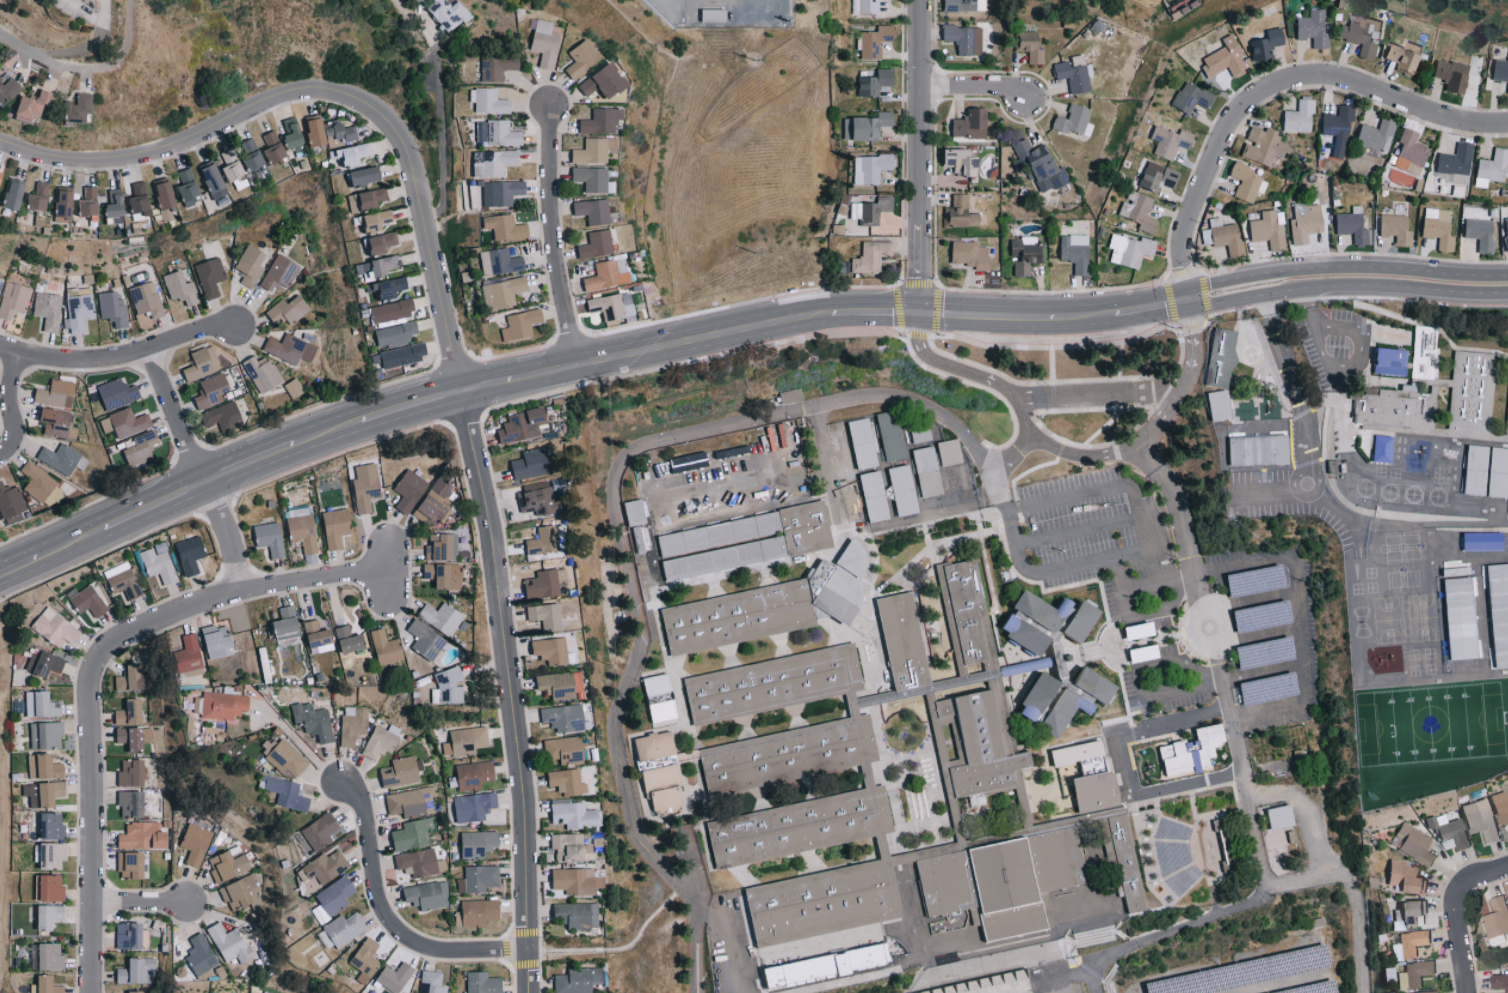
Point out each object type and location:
building: (962, 5)
building: (864, 6)
building: (445, 13)
power substation: (728, 13)
building: (1310, 28)
building: (1359, 36)
building: (961, 38)
building: (872, 41)
building: (541, 42)
building: (1263, 44)
building: (1027, 46)
road: (84, 48)
building: (1401, 56)
building: (576, 58)
building: (1222, 59)
road: (88, 66)
building: (493, 66)
building: (1499, 70)
building: (1449, 74)
road: (337, 77)
building: (597, 81)
road: (1274, 85)
building: (7, 87)
road: (977, 87)
building: (1189, 97)
building: (486, 101)
building: (27, 105)
building: (73, 106)
building: (1297, 117)
building: (597, 120)
building: (1072, 121)
building: (967, 124)
building: (865, 126)
building: (1335, 127)
road: (439, 132)
building: (495, 132)
building: (337, 133)
building: (1374, 134)
building: (289, 136)
building: (1167, 141)
building: (1261, 145)
building: (590, 150)
building: (1407, 153)
building: (346, 154)
building: (248, 156)
road: (921, 156)
road: (684, 161)
building: (489, 162)
building: (959, 163)
building: (1454, 163)
building: (1038, 166)
building: (869, 167)
building: (230, 168)
building: (1488, 168)
building: (0, 174)
building: (359, 175)
building: (1154, 176)
building: (588, 178)
building: (1242, 181)
building: (211, 183)
building: (184, 187)
building: (498, 192)
building: (10, 193)
building: (157, 194)
building: (33, 198)
building: (365, 198)
building: (133, 199)
building: (60, 203)
building: (590, 210)
building: (868, 210)
building: (1135, 211)
building: (959, 212)
building: (371, 219)
building: (1302, 222)
building: (1349, 225)
building: (501, 227)
road: (558, 227)
building: (1434, 227)
building: (1392, 229)
building: (1265, 230)
building: (1477, 232)
building: (1504, 232)
building: (1222, 237)
building: (375, 243)
building: (594, 244)
building: (1127, 250)
building: (1072, 251)
building: (965, 254)
building: (869, 256)
building: (1023, 256)
building: (497, 261)
building: (380, 264)
building: (247, 265)
building: (276, 272)
building: (604, 274)
building: (207, 276)
road: (1347, 277)
building: (0, 282)
building: (385, 287)
building: (177, 288)
building: (500, 292)
building: (13, 299)
building: (145, 299)
road: (1304, 302)
building: (609, 305)
building: (45, 310)
building: (110, 310)
building: (284, 310)
building: (77, 311)
building: (389, 311)
road: (1054, 315)
building: (519, 323)
building: (391, 334)
building: (286, 348)
building: (396, 355)
road: (121, 357)
building: (199, 363)
building: (1427, 363)
road: (950, 366)
road: (1357, 367)
building: (1393, 367)
building: (260, 372)
building: (1221, 377)
road: (1292, 383)
building: (291, 387)
building: (207, 391)
road: (1097, 392)
building: (52, 393)
building: (112, 394)
road: (447, 397)
building: (1475, 404)
road: (16, 407)
building: (1397, 414)
building: (221, 416)
building: (124, 422)
building: (54, 423)
building: (518, 426)
road: (1152, 426)
building: (921, 436)
building: (1233, 440)
building: (894, 442)
road: (1023, 444)
building: (1262, 444)
building: (133, 449)
building: (948, 452)
building: (1385, 455)
building: (59, 458)
road: (628, 462)
building: (524, 465)
building: (792, 466)
road: (199, 469)
building: (852, 469)
building: (924, 471)
building: (1263, 473)
building: (34, 480)
building: (1487, 480)
building: (1445, 484)
building: (708, 485)
building: (362, 487)
building: (441, 487)
road: (1306, 487)
building: (406, 490)
building: (900, 490)
road: (1307, 492)
road: (1085, 493)
building: (49, 496)
building: (871, 496)
building: (534, 500)
building: (10, 501)
building: (426, 510)
building: (630, 512)
building: (637, 520)
building: (332, 528)
building: (299, 529)
road: (1087, 529)
building: (267, 538)
building: (538, 542)
building: (440, 547)
building: (746, 550)
road: (1140, 550)
building: (1472, 550)
building: (186, 555)
building: (157, 564)
building: (1452, 572)
building: (444, 576)
building: (121, 580)
road: (1179, 582)
building: (541, 583)
road: (1151, 583)
building: (1471, 584)
building: (87, 601)
road: (1248, 602)
building: (888, 604)
building: (770, 613)
building: (543, 615)
building: (1480, 617)
building: (438, 618)
building: (1456, 618)
building: (287, 622)
building: (55, 627)
road: (1253, 638)
building: (350, 639)
building: (218, 640)
building: (425, 640)
building: (905, 645)
building: (387, 647)
building: (546, 650)
building: (188, 657)
building: (45, 663)
building: (1056, 663)
road: (94, 671)
building: (131, 678)
building: (553, 684)
building: (448, 686)
road: (509, 691)
road: (1168, 692)
building: (660, 701)
building: (41, 704)
building: (221, 705)
building: (131, 712)
building: (563, 717)
building: (313, 720)
building: (353, 724)
building: (46, 735)
building: (131, 737)
building: (381, 741)
building: (465, 741)
road: (301, 746)
building: (653, 746)
building: (1167, 747)
building: (562, 749)
building: (1072, 753)
building: (284, 755)
road: (1233, 758)
road: (1122, 761)
building: (44, 766)
building: (402, 771)
building: (132, 772)
building: (475, 773)
building: (1279, 773)
building: (567, 781)
building: (988, 788)
building: (662, 789)
building: (285, 792)
building: (1089, 792)
building: (44, 793)
building: (868, 798)
building: (1044, 800)
building: (411, 801)
building: (132, 803)
building: (474, 806)
building: (1500, 807)
building: (575, 814)
building: (1278, 817)
building: (1480, 820)
building: (52, 825)
building: (320, 831)
building: (1448, 832)
building: (413, 833)
building: (143, 835)
building: (196, 843)
building: (478, 843)
building: (1413, 844)
building: (572, 846)
building: (52, 853)
building: (908, 856)
building: (1220, 858)
building: (1127, 860)
building: (418, 862)
building: (132, 864)
building: (228, 865)
building: (327, 866)
building: (1402, 877)
building: (478, 878)
building: (574, 880)
road: (1486, 881)
building: (49, 887)
building: (241, 893)
building: (427, 894)
building: (336, 895)
road: (143, 903)
road: (708, 905)
building: (50, 915)
building: (577, 915)
building: (1410, 915)
road: (387, 917)
building: (1497, 920)
building: (345, 927)
road: (1164, 932)
building: (129, 935)
road: (1457, 942)
building: (230, 943)
building: (1408, 944)
road: (693, 945)
building: (200, 954)
building: (51, 955)
building: (366, 960)
building: (824, 964)
building: (137, 970)
building: (1413, 974)
building: (395, 977)
building: (578, 980)
building: (1498, 981)
building: (432, 982)
building: (483, 983)
building: (46, 985)
building: (136, 991)
building: (265, 992)
building: (1426, 992)

